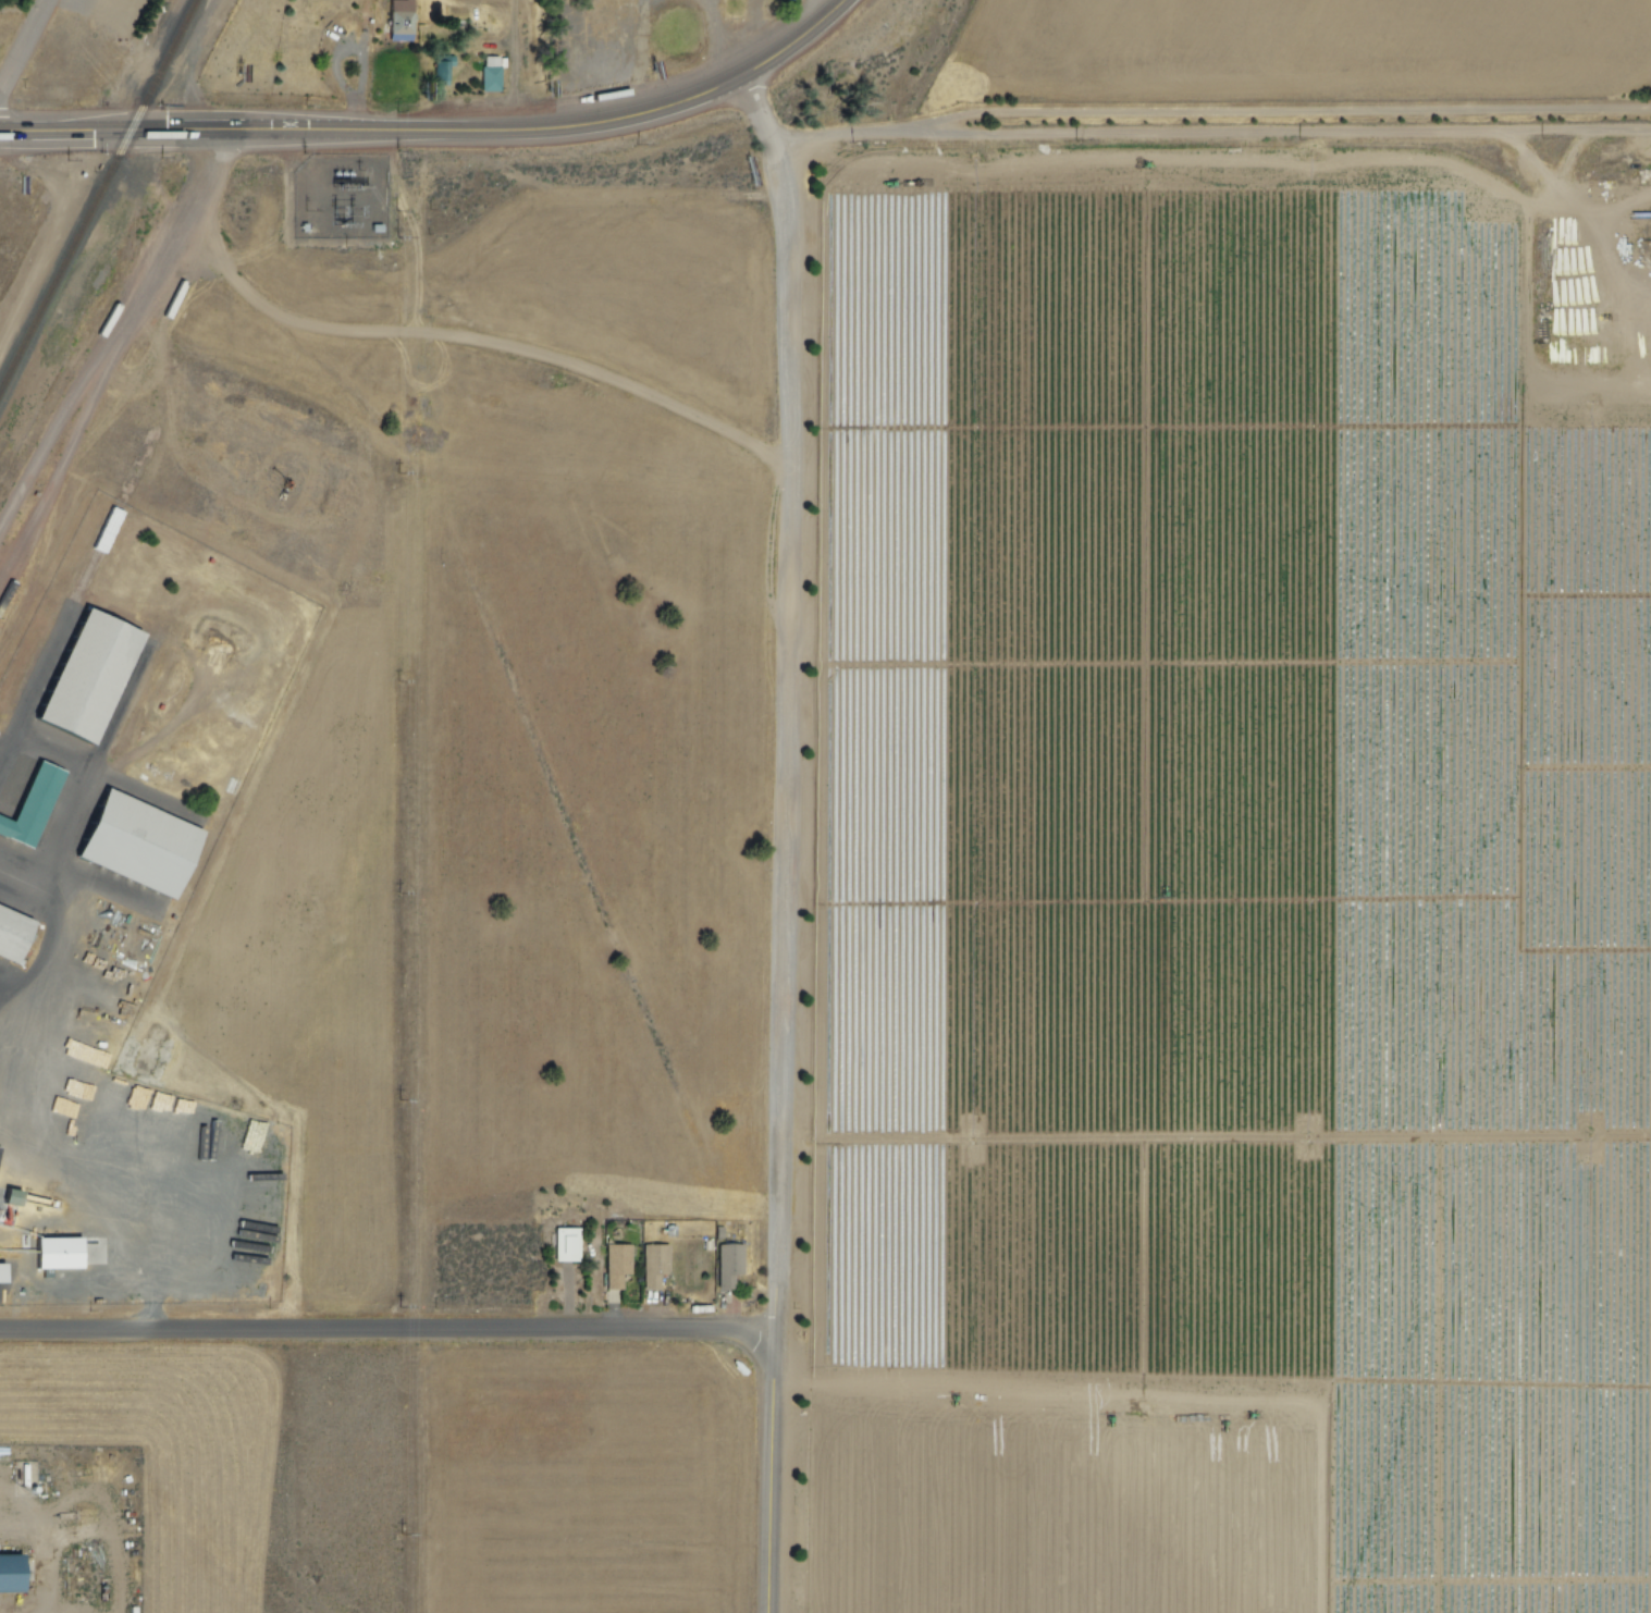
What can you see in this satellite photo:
road: (704, 2)
road: (820, 10)
building: (397, 17)
road: (22, 45)
road: (712, 46)
building: (438, 69)
building: (486, 76)
road: (1307, 114)
road: (940, 124)
road: (502, 133)
road: (62, 134)
road: (1181, 134)
railway: (96, 190)
power substation: (334, 196)
building: (94, 679)
road: (786, 699)
building: (32, 803)
building: (144, 848)
building: (16, 940)
building: (0, 1063)
building: (735, 1195)
building: (16, 1197)
building: (565, 1244)
building: (62, 1254)
building: (653, 1263)
building: (616, 1264)
building: (727, 1264)
building: (4, 1278)
road: (389, 1330)
road: (772, 1469)
building: (12, 1579)

